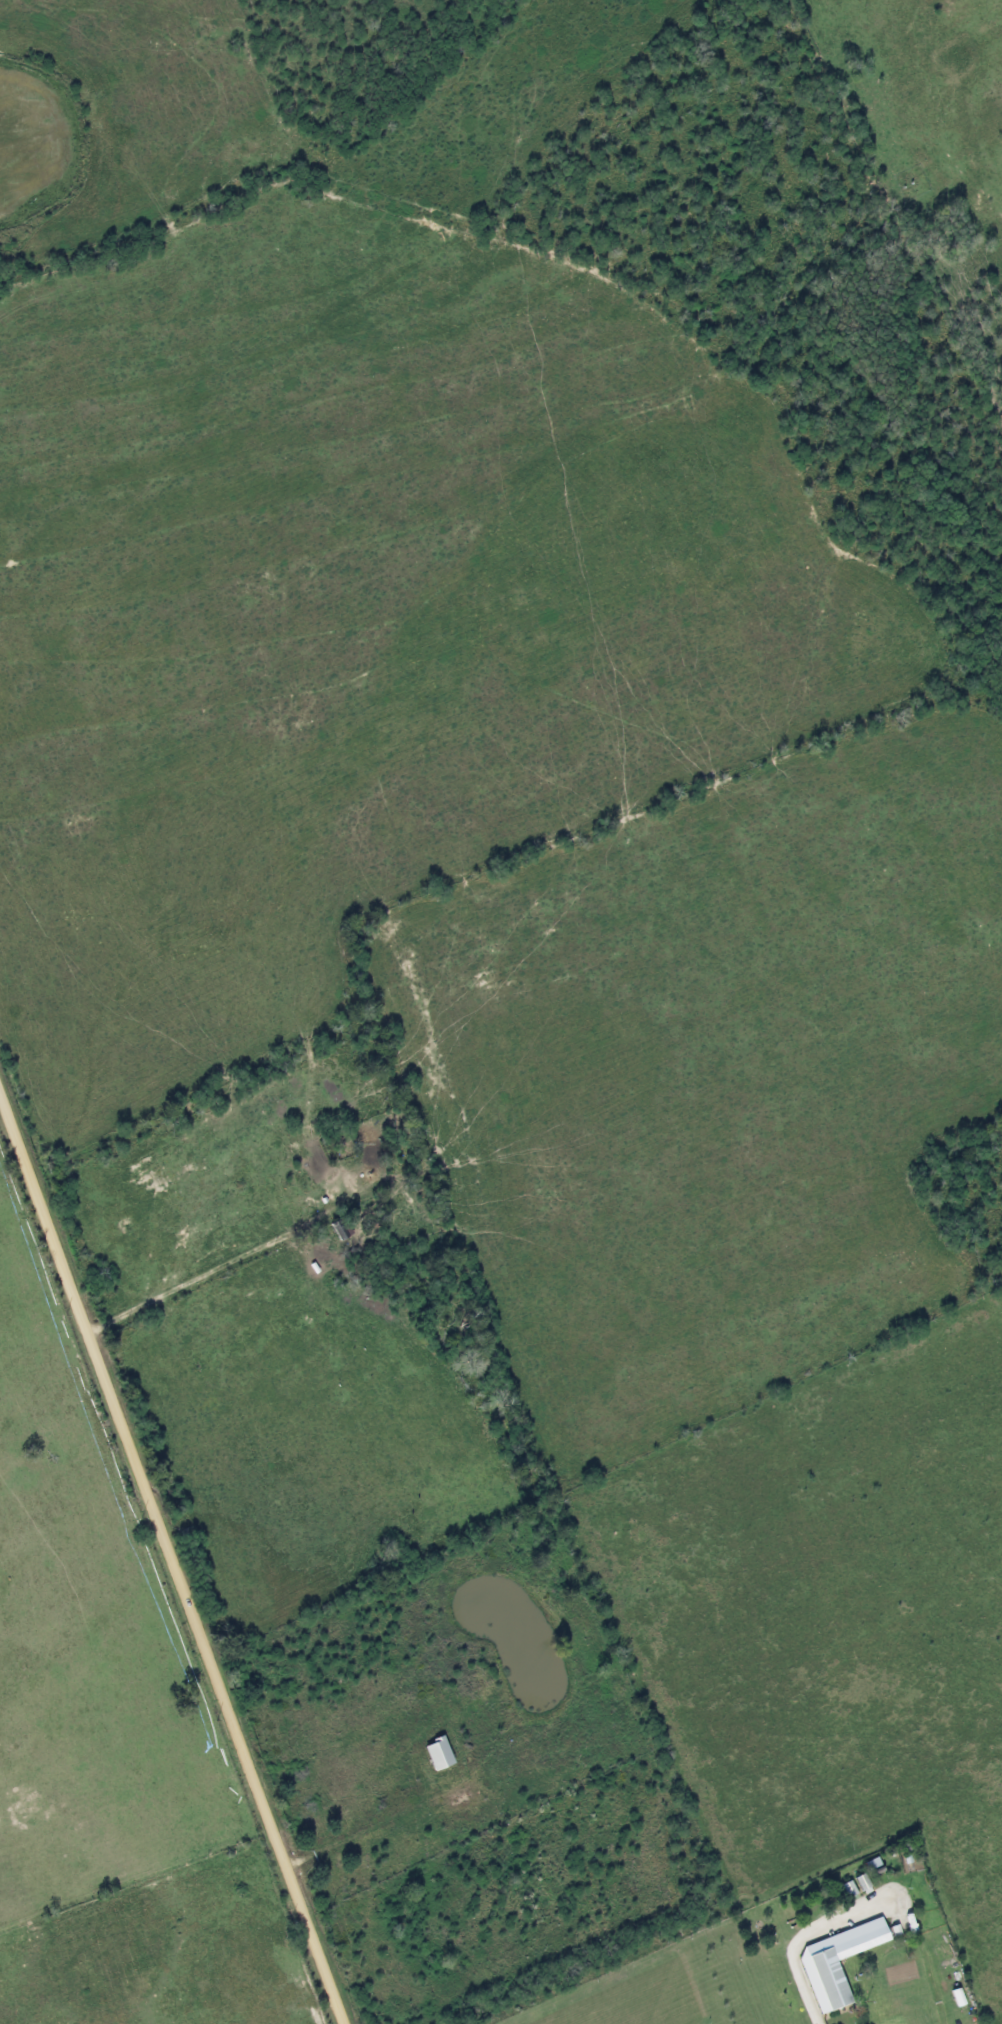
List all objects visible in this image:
building: (339, 1228)
road: (201, 1277)
road: (170, 1564)
building: (435, 1754)
building: (860, 1883)
road: (789, 1955)
building: (834, 1961)

